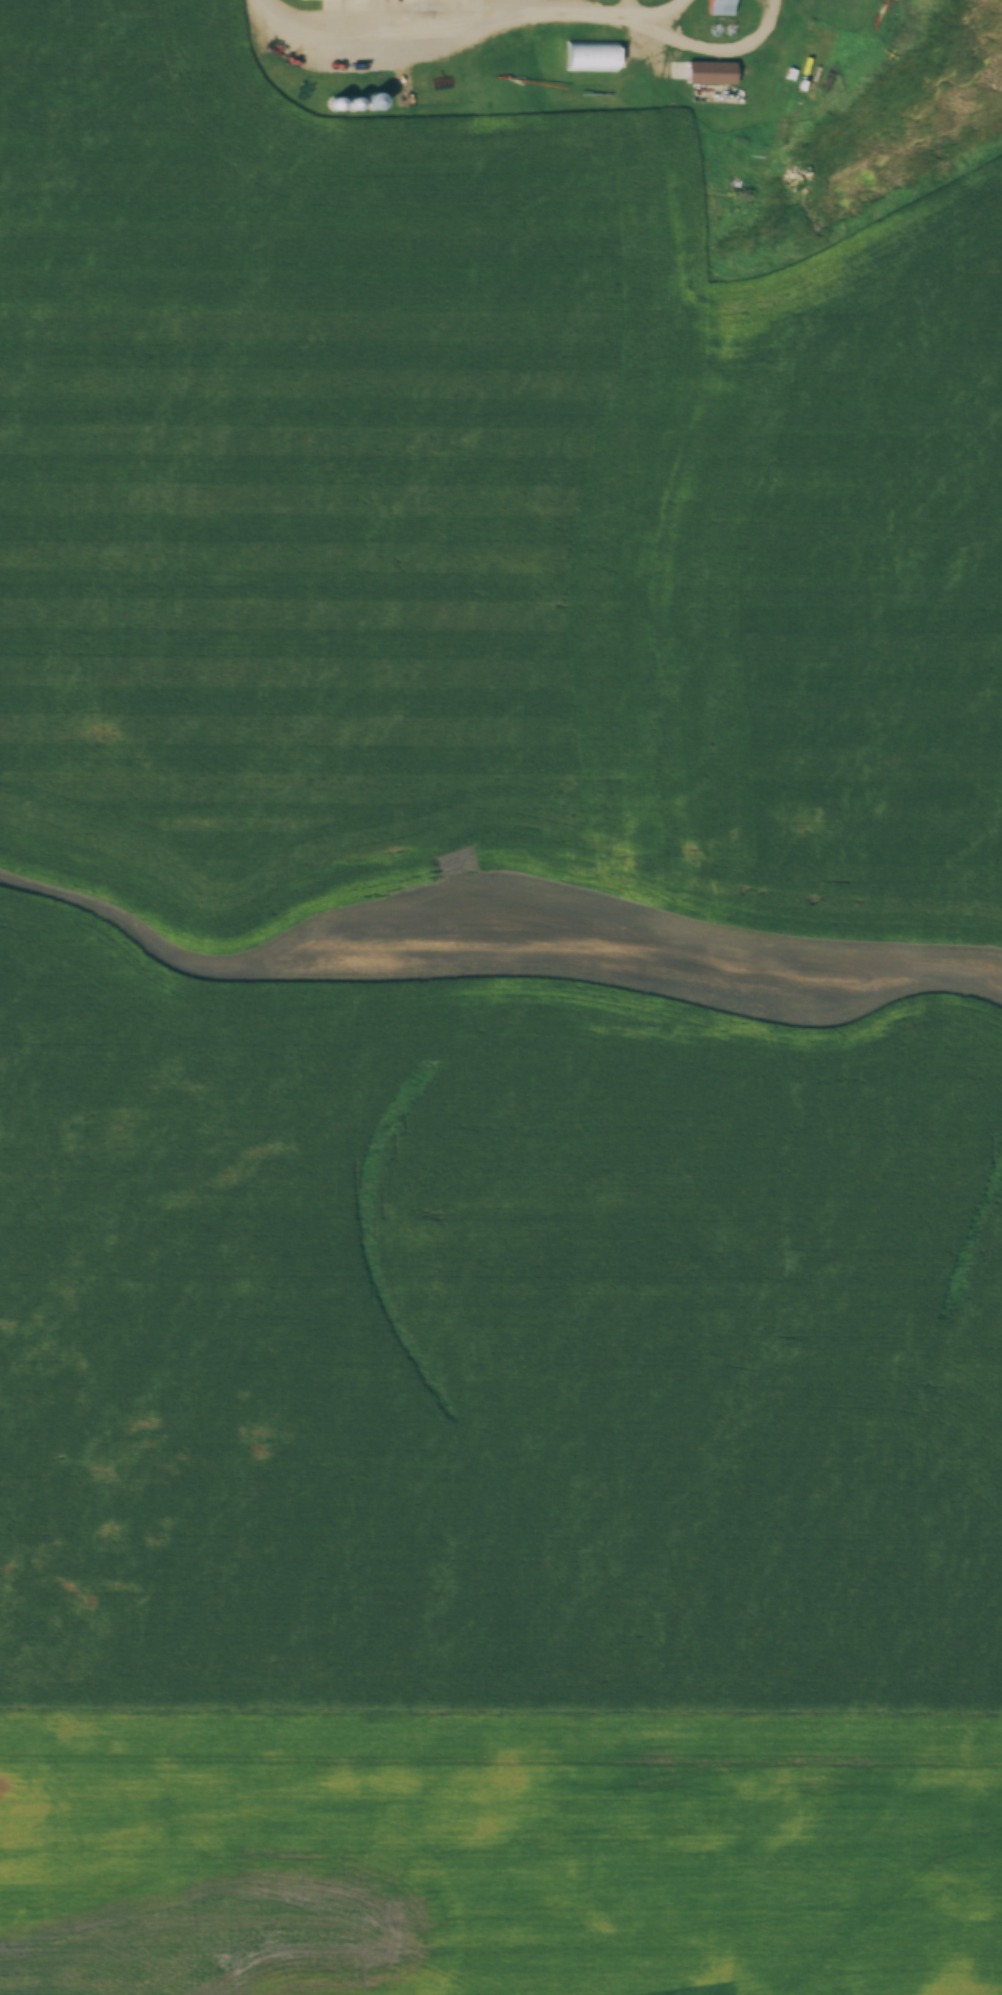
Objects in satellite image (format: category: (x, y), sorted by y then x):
building: (718, 7)
building: (709, 73)

